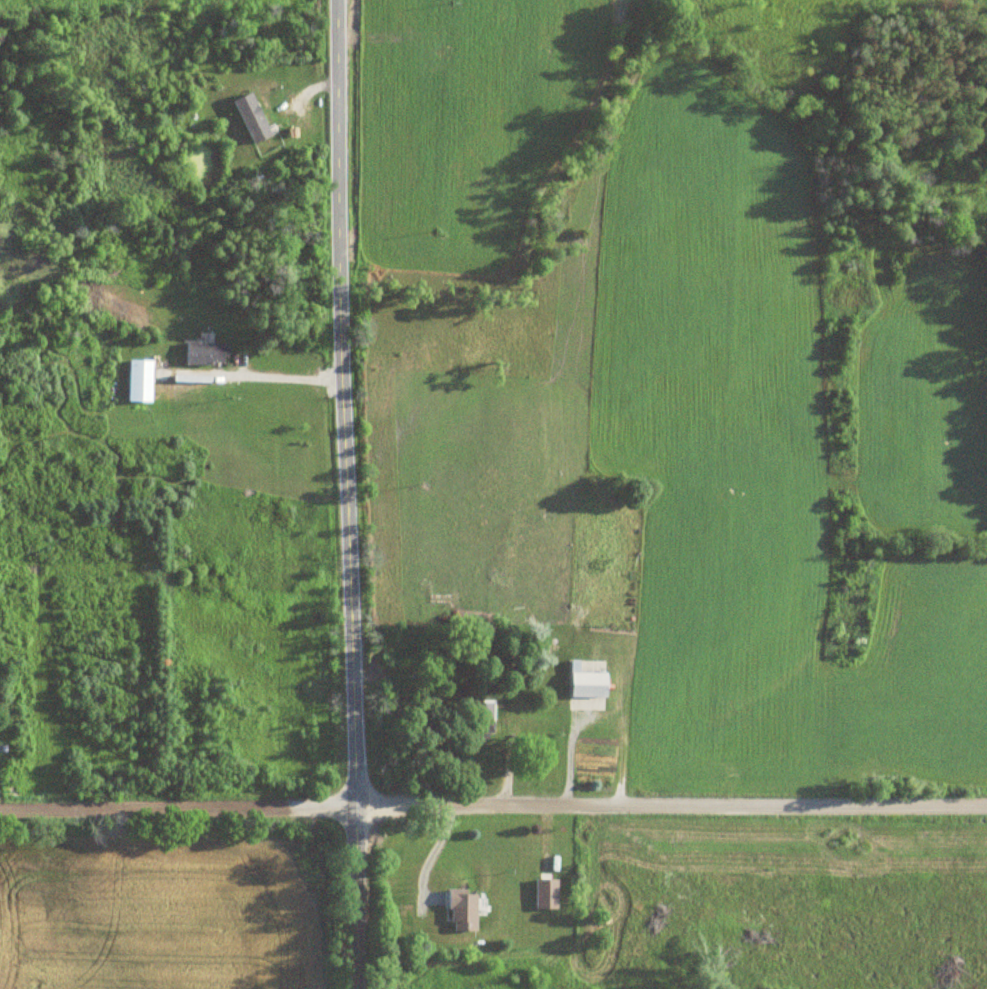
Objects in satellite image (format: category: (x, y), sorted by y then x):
building: (248, 119)
building: (203, 355)
road: (291, 380)
building: (136, 382)
road: (349, 494)
building: (583, 683)
building: (476, 720)
road: (493, 806)
building: (542, 895)
building: (458, 912)

